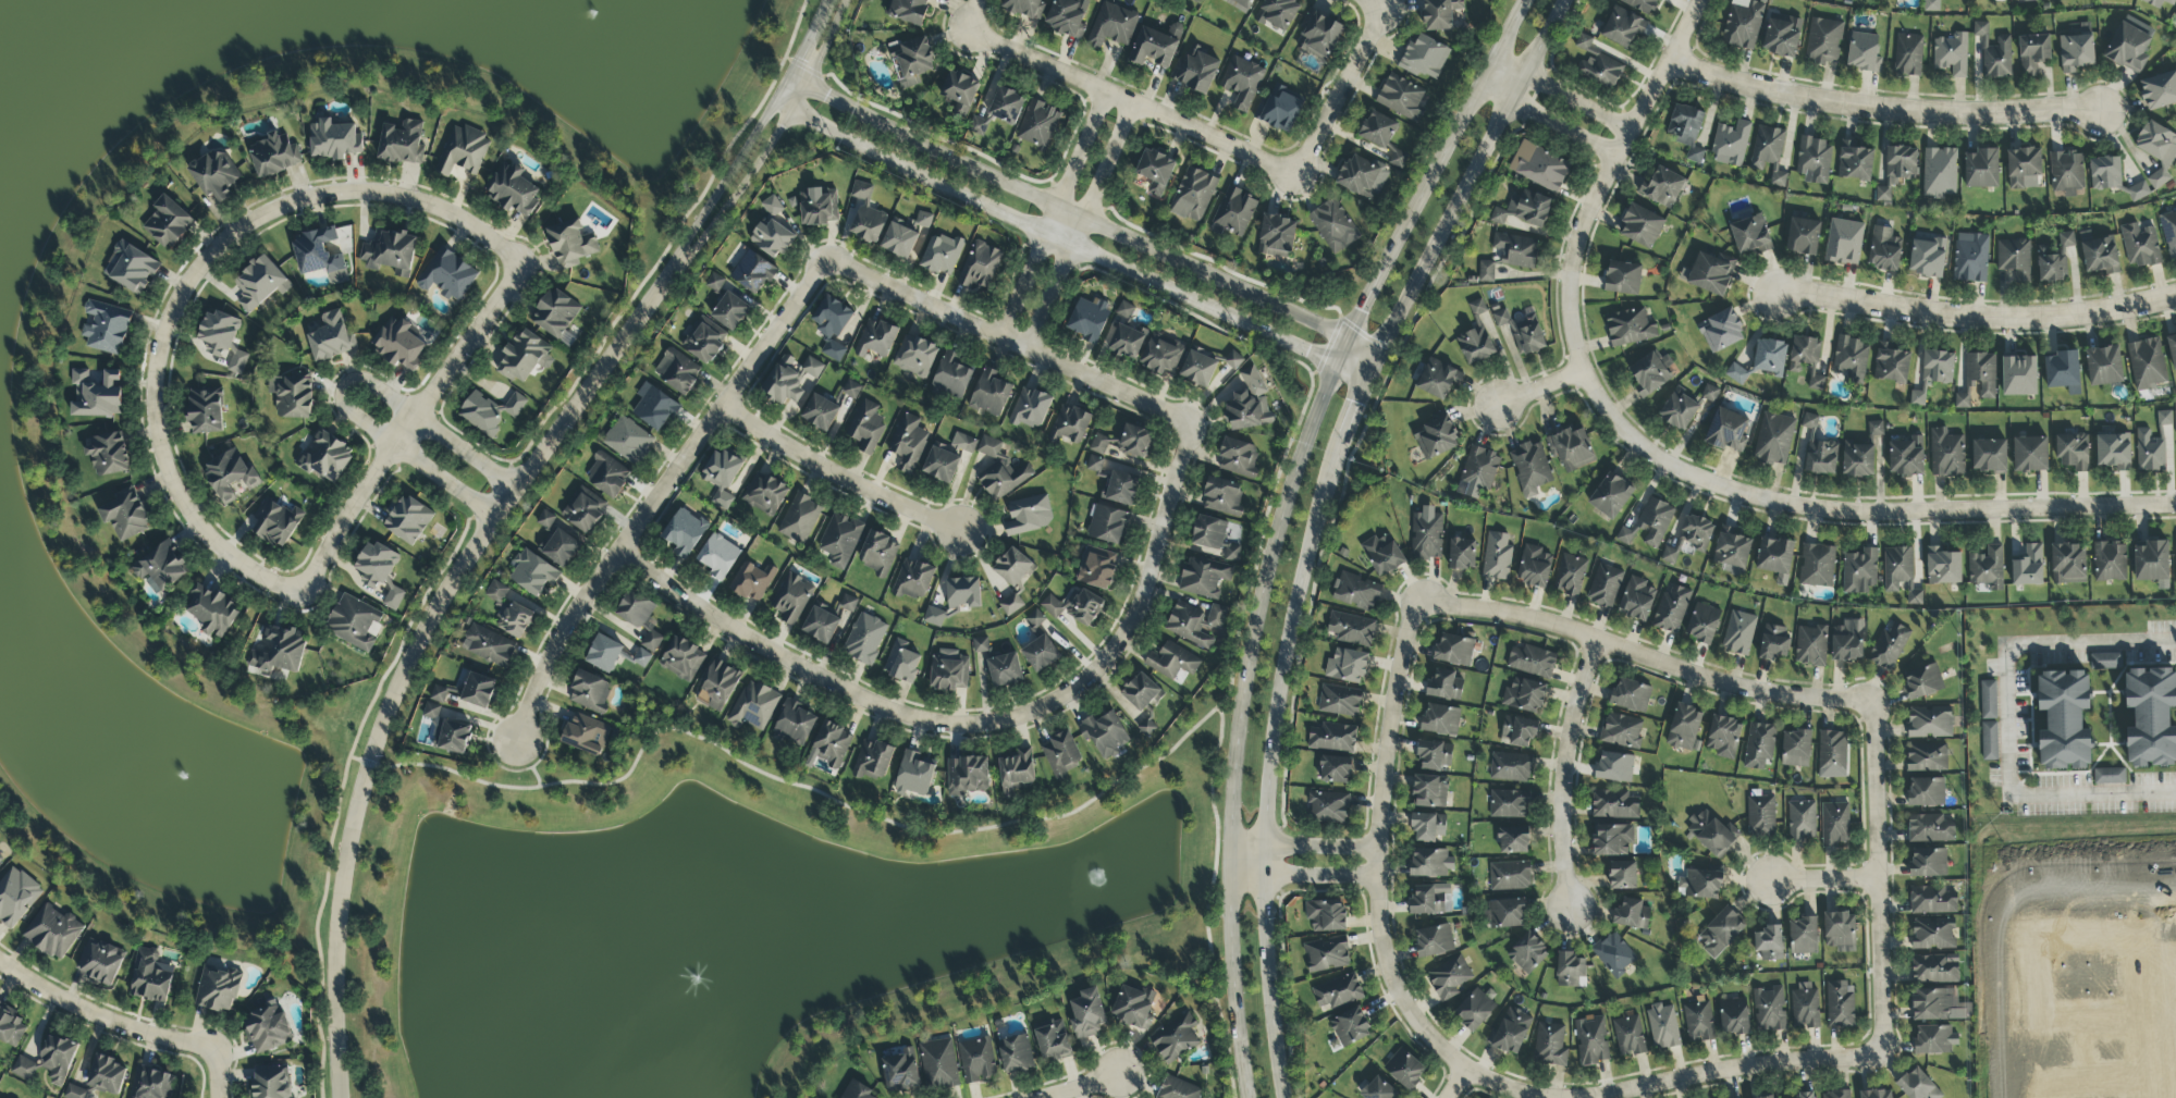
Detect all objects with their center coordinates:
building: (1901, 0)
building: (2028, 0)
building: (1196, 1)
building: (2159, 2)
building: (1239, 4)
building: (1642, 5)
building: (1931, 5)
building: (1024, 8)
road: (1376, 8)
building: (908, 11)
building: (1278, 14)
building: (1440, 14)
building: (2175, 15)
fountain: (599, 17)
road: (979, 17)
building: (1067, 17)
building: (1743, 24)
building: (1112, 26)
building: (1623, 28)
building: (1318, 35)
building: (1782, 36)
building: (1823, 42)
building: (1153, 48)
building: (2128, 48)
building: (1864, 52)
building: (1992, 53)
building: (2076, 53)
road: (819, 54)
building: (2032, 54)
building: (1908, 55)
building: (1952, 55)
building: (1424, 57)
building: (912, 62)
building: (1596, 64)
building: (1195, 72)
building: (1242, 82)
building: (960, 91)
building: (2159, 91)
road: (1563, 94)
building: (1402, 99)
road: (1342, 100)
building: (1006, 106)
road: (1135, 109)
building: (1279, 110)
road: (1882, 113)
road: (1548, 121)
building: (979, 125)
building: (1038, 125)
building: (1378, 131)
building: (1687, 131)
road: (751, 139)
building: (334, 140)
building: (402, 144)
building: (1731, 145)
building: (2157, 150)
building: (463, 151)
building: (1769, 152)
building: (273, 156)
building: (1398, 160)
building: (1814, 161)
building: (1854, 162)
building: (1539, 168)
building: (1982, 169)
building: (2024, 169)
building: (1897, 170)
building: (1155, 172)
building: (1940, 173)
building: (2066, 173)
building: (2104, 173)
building: (216, 175)
building: (1362, 177)
road: (1609, 178)
road: (1435, 182)
road: (1468, 184)
building: (1662, 188)
building: (513, 190)
building: (2138, 192)
road: (733, 195)
building: (1193, 195)
building: (819, 207)
building: (1524, 209)
building: (1233, 213)
road: (1050, 214)
building: (865, 215)
road: (1080, 218)
building: (923, 220)
building: (168, 223)
building: (1333, 226)
building: (1640, 226)
road: (1078, 227)
building: (772, 232)
building: (2168, 232)
building: (1276, 236)
building: (1750, 236)
building: (1803, 237)
building: (899, 242)
building: (1844, 243)
building: (571, 244)
building: (2140, 246)
road: (1065, 248)
building: (1515, 250)
building: (1884, 250)
building: (390, 252)
building: (942, 255)
building: (318, 256)
building: (2100, 256)
building: (1927, 258)
building: (1970, 258)
building: (2014, 259)
building: (2054, 260)
building: (980, 267)
building: (131, 269)
building: (1486, 272)
building: (752, 273)
building: (1708, 273)
building: (447, 276)
building: (1622, 279)
road: (187, 284)
building: (260, 284)
building: (1477, 308)
building: (555, 313)
building: (1089, 319)
road: (1976, 320)
building: (833, 324)
building: (1628, 328)
building: (106, 329)
building: (1721, 331)
building: (1523, 332)
building: (218, 334)
building: (1126, 334)
building: (330, 337)
building: (876, 338)
building: (704, 341)
road: (1009, 341)
building: (398, 345)
building: (1475, 346)
building: (2172, 350)
building: (1804, 354)
building: (917, 356)
building: (1161, 356)
building: (525, 357)
building: (1770, 357)
building: (1852, 359)
building: (1234, 361)
building: (237, 362)
building: (1892, 365)
building: (2147, 365)
building: (2104, 367)
building: (1198, 369)
building: (2062, 370)
building: (677, 373)
building: (1933, 373)
building: (1650, 374)
building: (1736, 374)
building: (2019, 375)
building: (951, 379)
building: (1438, 379)
building: (1978, 379)
building: (790, 380)
building: (1816, 383)
road: (344, 388)
road: (1539, 390)
building: (991, 393)
building: (97, 395)
building: (292, 395)
building: (1249, 404)
road: (1354, 405)
building: (514, 406)
building: (828, 406)
building: (654, 407)
building: (1030, 409)
building: (1679, 410)
building: (206, 411)
building: (481, 415)
building: (2164, 418)
road: (410, 424)
building: (1069, 425)
building: (866, 427)
building: (1876, 429)
building: (1726, 431)
building: (1436, 439)
building: (1774, 439)
building: (628, 441)
building: (1134, 441)
building: (909, 443)
building: (1098, 444)
building: (1571, 449)
building: (1819, 451)
building: (2073, 452)
building: (2113, 452)
building: (2150, 452)
building: (108, 454)
building: (1946, 454)
building: (2030, 455)
building: (324, 456)
building: (1989, 456)
building: (948, 457)
building: (1238, 458)
building: (1906, 458)
building: (1858, 460)
building: (1094, 465)
building: (1530, 469)
building: (1000, 471)
building: (1477, 473)
building: (607, 476)
road: (839, 476)
building: (230, 477)
building: (722, 477)
building: (1122, 488)
road: (660, 495)
building: (764, 495)
building: (1611, 496)
building: (1222, 497)
building: (583, 510)
road: (1854, 513)
building: (1029, 515)
building: (126, 517)
building: (546, 519)
building: (800, 519)
building: (407, 520)
building: (275, 523)
building: (1650, 523)
building: (1108, 525)
building: (684, 533)
building: (1426, 536)
building: (1212, 539)
building: (1689, 539)
building: (840, 540)
building: (2175, 550)
building: (1732, 552)
building: (877, 554)
building: (1462, 554)
building: (1382, 555)
building: (718, 557)
building: (1497, 557)
building: (1775, 559)
building: (2110, 563)
building: (2152, 563)
building: (2068, 564)
building: (1817, 566)
building: (1012, 567)
building: (1535, 567)
building: (1943, 567)
building: (2028, 567)
building: (1096, 568)
building: (1987, 568)
building: (160, 570)
building: (380, 572)
building: (1859, 572)
building: (532, 573)
building: (1900, 573)
building: (1570, 576)
building: (1203, 578)
building: (913, 581)
building: (753, 582)
building: (1605, 587)
building: (496, 592)
building: (1355, 593)
building: (962, 594)
road: (1142, 595)
building: (791, 599)
building: (1636, 599)
building: (847, 604)
building: (1011, 605)
building: (1075, 606)
building: (1672, 610)
building: (211, 612)
building: (934, 617)
building: (640, 618)
building: (1035, 619)
building: (514, 620)
building: (354, 624)
building: (1702, 624)
building: (821, 625)
building: (1195, 625)
building: (1351, 630)
building: (1738, 633)
building: (864, 640)
building: (1848, 641)
building: (1773, 643)
building: (488, 645)
building: (981, 645)
building: (1810, 645)
building: (1889, 646)
building: (1453, 650)
building: (276, 652)
road: (415, 653)
building: (604, 654)
building: (1041, 654)
building: (641, 658)
road: (1645, 658)
building: (681, 659)
building: (1533, 662)
building: (2106, 662)
building: (901, 663)
building: (1172, 663)
building: (1347, 666)
building: (949, 670)
building: (1005, 670)
road: (809, 676)
building: (1923, 682)
building: (718, 686)
building: (1444, 686)
building: (479, 691)
building: (590, 692)
building: (1141, 692)
building: (439, 694)
building: (1631, 695)
building: (1524, 696)
building: (1339, 701)
building: (1988, 701)
building: (753, 707)
building: (431, 712)
building: (2151, 717)
building: (1440, 720)
road: (2014, 720)
building: (2064, 720)
road: (1238, 723)
building: (1929, 723)
building: (795, 727)
building: (1146, 728)
building: (1684, 728)
building: (1621, 731)
building: (1517, 732)
building: (586, 735)
building: (1104, 735)
building: (455, 737)
building: (1332, 738)
building: (1724, 738)
building: (1989, 741)
building: (829, 747)
building: (1759, 747)
building: (1796, 749)
building: (1061, 755)
building: (1832, 755)
building: (1433, 756)
building: (1927, 757)
building: (873, 761)
road: (530, 764)
road: (1268, 767)
building: (1510, 768)
building: (1614, 768)
building: (1335, 769)
road: (1561, 772)
building: (1017, 773)
building: (914, 776)
building: (967, 776)
building: (2109, 777)
building: (1429, 792)
building: (1926, 792)
fountain: (197, 804)
building: (1509, 804)
building: (1614, 805)
building: (1328, 807)
building: (1761, 816)
road: (1026, 821)
building: (1802, 822)
building: (1835, 824)
building: (1428, 828)
building: (1930, 828)
building: (1710, 835)
building: (1513, 840)
building: (1612, 840)
road: (1301, 848)
road: (1375, 848)
building: (0, 859)
building: (1430, 863)
building: (1928, 863)
road: (1301, 874)
building: (1510, 876)
building: (1623, 876)
fountain: (1103, 879)
road: (1877, 879)
road: (1824, 880)
building: (1701, 884)
building: (16, 897)
building: (1430, 900)
road: (1207, 901)
building: (1932, 901)
building: (1505, 914)
building: (1326, 915)
building: (1632, 915)
building: (1840, 932)
building: (52, 933)
building: (1720, 934)
building: (1933, 935)
building: (1803, 936)
building: (1434, 941)
building: (1769, 943)
building: (1527, 954)
building: (1614, 954)
building: (1327, 955)
building: (100, 963)
fountain: (619, 967)
building: (1934, 970)
building: (1571, 971)
building: (150, 977)
building: (1449, 978)
building: (218, 990)
building: (1338, 992)
building: (1840, 1006)
building: (1938, 1006)
building: (1133, 1008)
building: (1805, 1008)
building: (1474, 1010)
building: (1769, 1010)
building: (1087, 1014)
road: (102, 1017)
building: (1734, 1017)
building: (1698, 1023)
building: (10, 1026)
building: (1350, 1027)
building: (1662, 1027)
building: (268, 1029)
building: (1510, 1033)
building: (1628, 1036)
building: (1175, 1039)
building: (1934, 1040)
building: (1053, 1041)
building: (1591, 1041)
building: (1550, 1046)
building: (1016, 1053)
building: (976, 1060)
building: (49, 1062)
building: (938, 1064)
building: (1404, 1070)
road: (1729, 1071)
building: (900, 1072)
road: (217, 1075)
building: (106, 1076)
building: (270, 1083)
building: (151, 1084)
road: (1455, 1085)
road: (1082, 1086)
building: (1918, 1086)
road: (1505, 1087)
building: (1178, 1089)
building: (1378, 1089)
building: (857, 1090)
building: (76, 1093)
building: (1877, 1094)
building: (1806, 1095)
building: (1836, 1095)

